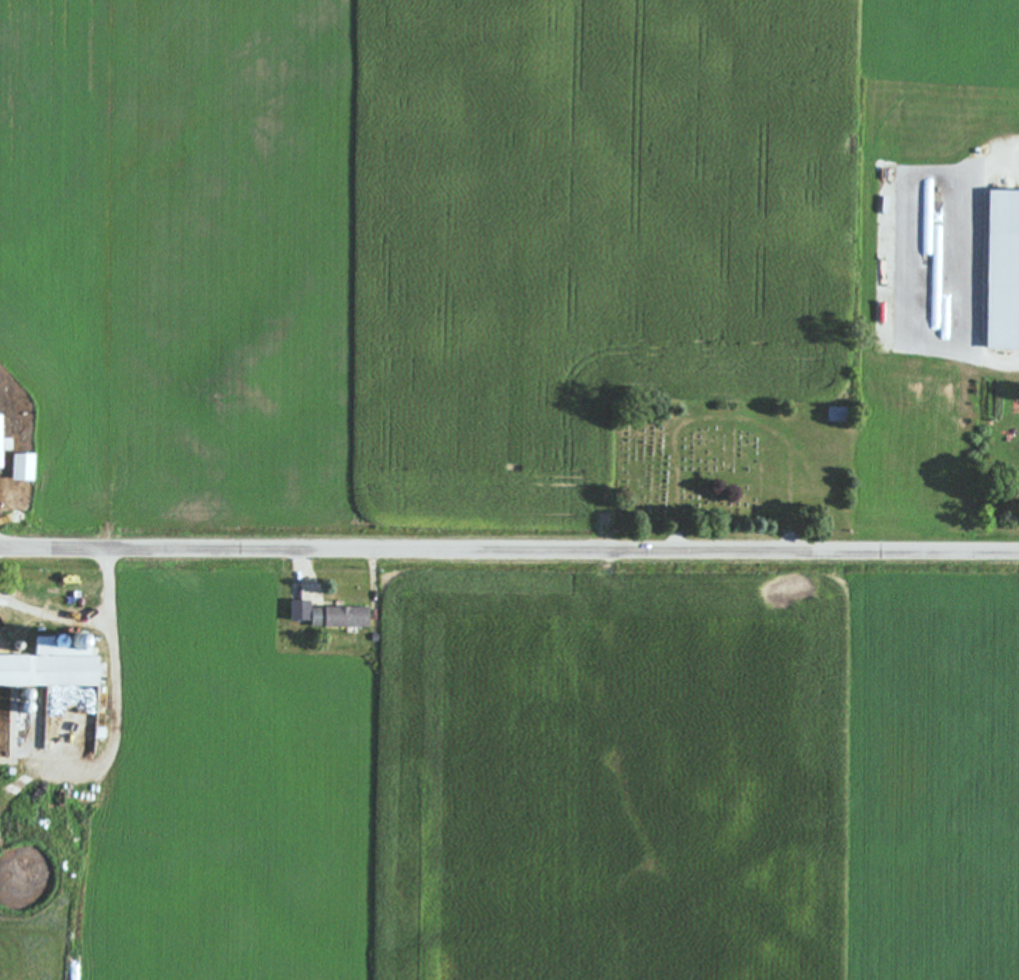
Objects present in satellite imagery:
building: (1000, 270)
building: (5, 445)
building: (26, 468)
park: (732, 468)
building: (1010, 484)
road: (509, 551)
road: (56, 616)
building: (334, 616)
road: (115, 640)
building: (58, 664)

